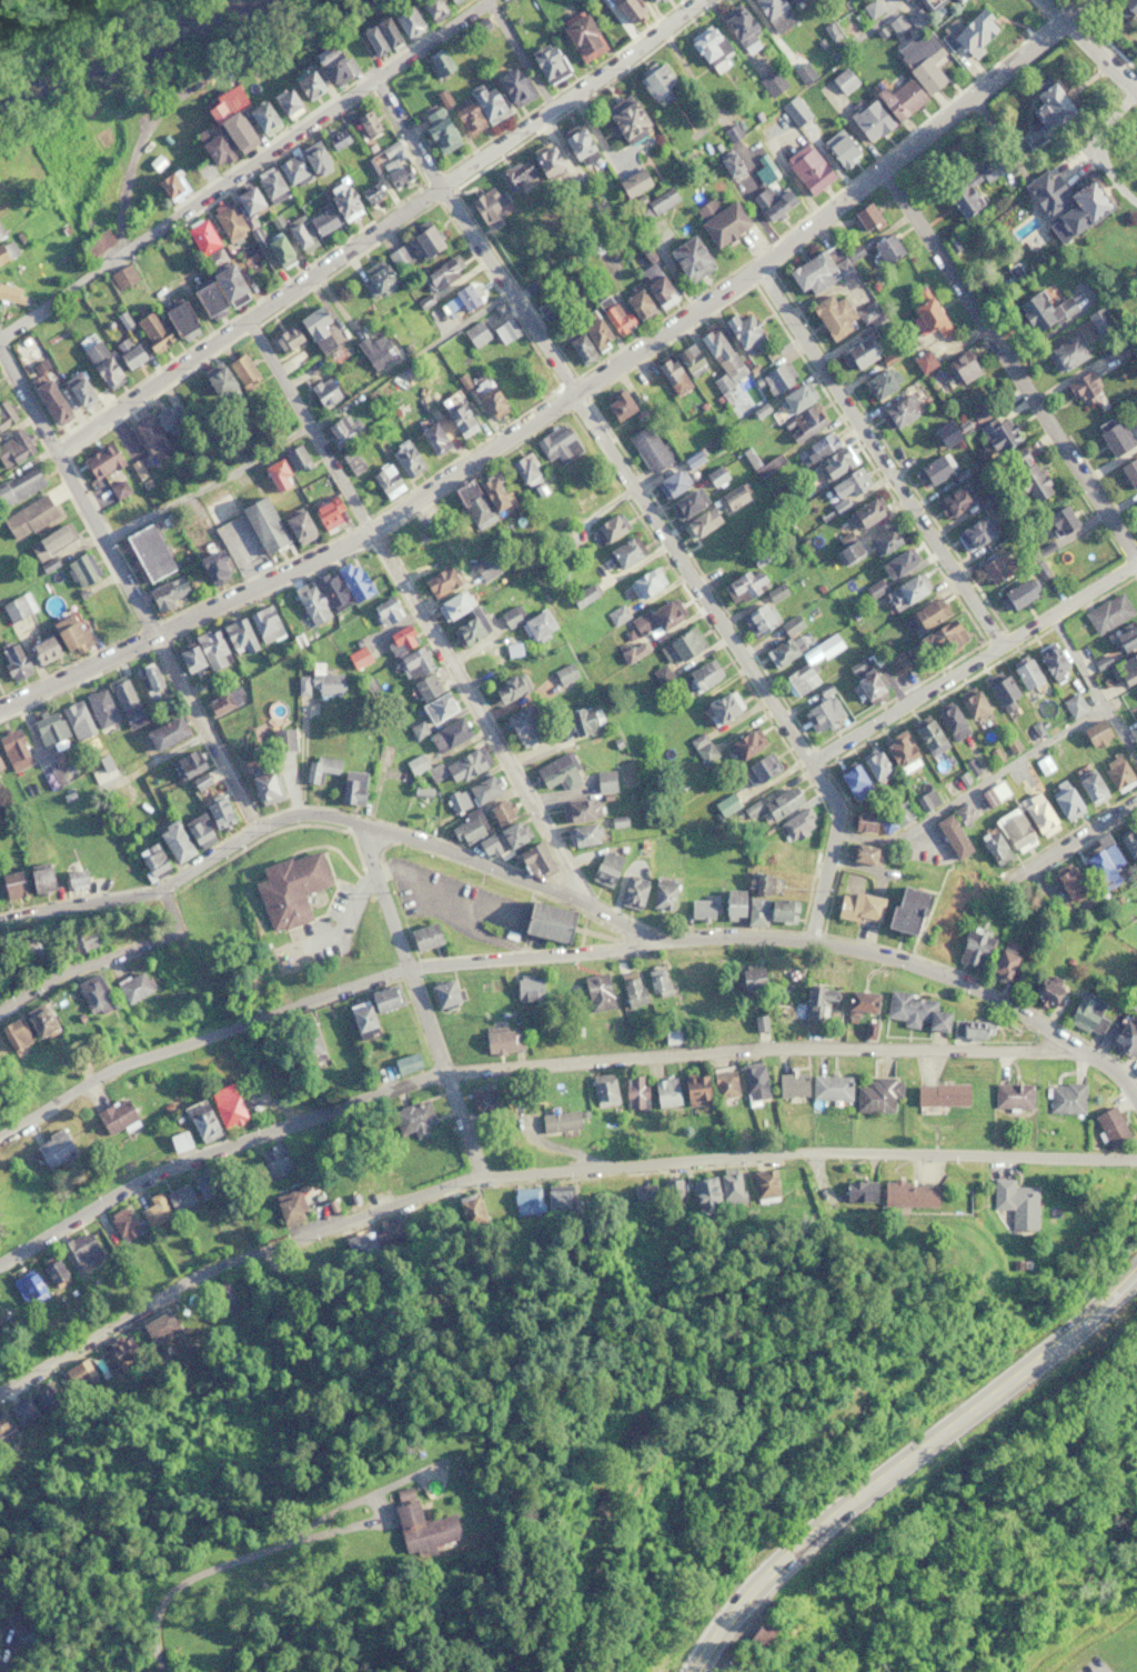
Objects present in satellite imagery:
building: (655, 0)
building: (929, 2)
building: (429, 7)
building: (624, 8)
building: (773, 13)
building: (735, 21)
river: (105, 27)
building: (388, 29)
building: (969, 31)
building: (580, 36)
building: (706, 46)
road: (1087, 47)
building: (329, 62)
building: (439, 62)
building: (544, 62)
building: (803, 72)
building: (923, 74)
building: (843, 80)
building: (653, 81)
building: (304, 84)
building: (769, 87)
building: (898, 97)
building: (490, 100)
building: (281, 101)
building: (1045, 101)
building: (256, 116)
building: (868, 120)
building: (624, 121)
building: (364, 123)
building: (231, 126)
building: (436, 130)
building: (335, 140)
building: (575, 143)
building: (839, 148)
building: (212, 150)
building: (728, 164)
building: (301, 166)
road: (244, 167)
building: (529, 167)
building: (805, 171)
building: (394, 173)
building: (630, 183)
building: (269, 184)
building: (169, 186)
building: (972, 188)
building: (370, 193)
building: (243, 200)
building: (341, 200)
building: (764, 202)
building: (654, 204)
building: (1083, 204)
building: (485, 206)
building: (865, 218)
building: (227, 221)
building: (318, 222)
building: (720, 224)
building: (1024, 228)
road: (376, 229)
building: (0, 232)
building: (199, 237)
building: (296, 237)
building: (423, 240)
building: (94, 242)
building: (883, 248)
building: (275, 250)
building: (683, 253)
building: (399, 257)
building: (441, 272)
building: (809, 273)
building: (221, 278)
building: (374, 278)
building: (117, 279)
building: (14, 293)
building: (202, 298)
building: (457, 300)
building: (637, 300)
building: (1042, 311)
building: (829, 314)
building: (175, 317)
building: (872, 317)
building: (926, 319)
building: (314, 328)
building: (149, 330)
building: (503, 330)
building: (737, 330)
building: (474, 334)
building: (585, 337)
building: (283, 339)
building: (373, 351)
building: (1064, 352)
building: (856, 353)
building: (127, 357)
road: (1012, 357)
building: (98, 361)
building: (920, 361)
building: (959, 367)
building: (678, 368)
building: (242, 370)
building: (730, 372)
building: (776, 377)
building: (219, 381)
building: (876, 383)
building: (1085, 386)
building: (77, 391)
building: (323, 392)
road: (568, 396)
building: (486, 398)
building: (793, 398)
road: (26, 400)
building: (49, 401)
building: (616, 403)
building: (895, 411)
building: (4, 414)
building: (455, 417)
road: (593, 421)
building: (803, 422)
building: (342, 429)
building: (152, 432)
building: (943, 432)
building: (996, 432)
building: (1114, 434)
building: (432, 438)
building: (12, 444)
building: (559, 444)
building: (648, 447)
building: (817, 447)
building: (404, 459)
building: (352, 460)
building: (99, 461)
road: (879, 461)
building: (762, 463)
building: (832, 464)
building: (284, 467)
building: (523, 470)
building: (930, 471)
building: (1128, 471)
building: (1026, 474)
building: (714, 477)
building: (385, 481)
road: (207, 482)
building: (668, 482)
building: (20, 484)
building: (118, 489)
building: (493, 492)
building: (960, 497)
building: (731, 498)
building: (685, 503)
building: (325, 513)
building: (863, 513)
building: (28, 517)
building: (1057, 520)
building: (260, 523)
building: (700, 523)
building: (607, 528)
building: (972, 532)
building: (881, 540)
building: (49, 541)
parking lot: (240, 544)
building: (144, 553)
building: (620, 553)
road: (245, 555)
building: (999, 561)
building: (894, 564)
building: (211, 567)
building: (483, 568)
building: (80, 569)
building: (352, 579)
building: (437, 583)
building: (643, 583)
building: (739, 585)
building: (874, 589)
building: (904, 591)
building: (167, 592)
building: (1017, 592)
building: (776, 593)
building: (578, 597)
building: (320, 598)
building: (17, 607)
road: (416, 607)
building: (384, 611)
building: (1106, 613)
building: (616, 614)
building: (922, 614)
building: (459, 617)
building: (655, 619)
building: (758, 619)
building: (525, 621)
building: (264, 623)
building: (237, 637)
building: (940, 639)
building: (1123, 639)
road: (151, 641)
building: (399, 641)
building: (785, 643)
building: (680, 645)
building: (633, 651)
building: (199, 653)
building: (1048, 659)
building: (11, 660)
building: (413, 662)
building: (894, 662)
road: (975, 664)
building: (1022, 672)
building: (563, 673)
building: (701, 675)
building: (1120, 677)
building: (149, 680)
building: (797, 680)
building: (319, 684)
building: (370, 685)
building: (865, 687)
building: (505, 689)
building: (997, 689)
building: (431, 698)
road: (1094, 699)
building: (223, 700)
building: (125, 702)
building: (967, 703)
building: (1073, 705)
building: (720, 707)
building: (99, 708)
building: (821, 713)
building: (945, 718)
building: (76, 719)
building: (581, 720)
building: (519, 729)
building: (48, 730)
building: (163, 733)
building: (1094, 733)
building: (447, 734)
building: (925, 737)
building: (281, 740)
building: (742, 745)
building: (14, 751)
building: (897, 753)
building: (185, 763)
building: (450, 765)
building: (873, 765)
building: (759, 768)
building: (550, 769)
building: (1115, 772)
building: (849, 780)
building: (604, 781)
building: (1087, 785)
building: (263, 787)
road: (972, 789)
building: (482, 790)
building: (926, 799)
building: (1063, 801)
building: (779, 802)
building: (574, 811)
building: (495, 812)
building: (898, 813)
building: (963, 813)
building: (1037, 814)
building: (208, 819)
building: (861, 821)
building: (797, 823)
building: (886, 824)
building: (469, 827)
building: (1012, 829)
building: (507, 834)
building: (580, 835)
building: (949, 835)
building: (172, 842)
building: (1127, 843)
road: (1075, 844)
building: (993, 847)
road: (831, 849)
building: (865, 853)
building: (784, 855)
building: (150, 860)
building: (531, 860)
building: (604, 869)
building: (73, 878)
building: (24, 881)
building: (1066, 881)
building: (756, 883)
building: (286, 889)
building: (631, 892)
building: (662, 893)
road: (574, 904)
building: (728, 904)
building: (700, 907)
building: (903, 910)
building: (769, 911)
building: (545, 921)
building: (422, 937)
building: (82, 939)
building: (29, 947)
building: (972, 949)
road: (107, 953)
building: (1000, 963)
road: (370, 977)
building: (748, 978)
building: (656, 981)
building: (133, 985)
building: (527, 989)
building: (1045, 989)
building: (631, 990)
building: (596, 992)
building: (91, 993)
building: (443, 994)
road: (414, 995)
building: (811, 1001)
building: (858, 1002)
building: (370, 1010)
building: (913, 1012)
building: (1086, 1013)
building: (49, 1024)
building: (965, 1030)
building: (668, 1038)
building: (1119, 1038)
building: (500, 1039)
building: (310, 1045)
building: (403, 1063)
road: (514, 1071)
building: (753, 1083)
building: (723, 1084)
building: (789, 1085)
building: (829, 1088)
building: (602, 1090)
building: (692, 1090)
building: (633, 1092)
building: (663, 1093)
building: (876, 1094)
building: (938, 1095)
building: (1010, 1095)
building: (1064, 1098)
road: (57, 1099)
building: (480, 1100)
building: (225, 1107)
building: (256, 1107)
building: (113, 1118)
building: (414, 1120)
building: (557, 1121)
building: (200, 1123)
building: (1108, 1127)
building: (738, 1138)
building: (178, 1142)
building: (54, 1149)
building: (274, 1161)
road: (541, 1163)
building: (762, 1184)
building: (854, 1190)
building: (656, 1192)
building: (703, 1192)
building: (905, 1192)
building: (541, 1200)
building: (1010, 1201)
building: (165, 1203)
building: (290, 1208)
building: (469, 1212)
building: (122, 1224)
building: (358, 1244)
building: (83, 1251)
building: (52, 1270)
building: (32, 1284)
building: (228, 1295)
building: (159, 1330)
building: (117, 1352)
building: (77, 1378)
building: (26, 1410)
road: (904, 1461)
building: (402, 1522)
road: (376, 1535)
road: (199, 1591)
building: (755, 1650)
parking lot: (1091, 1665)

